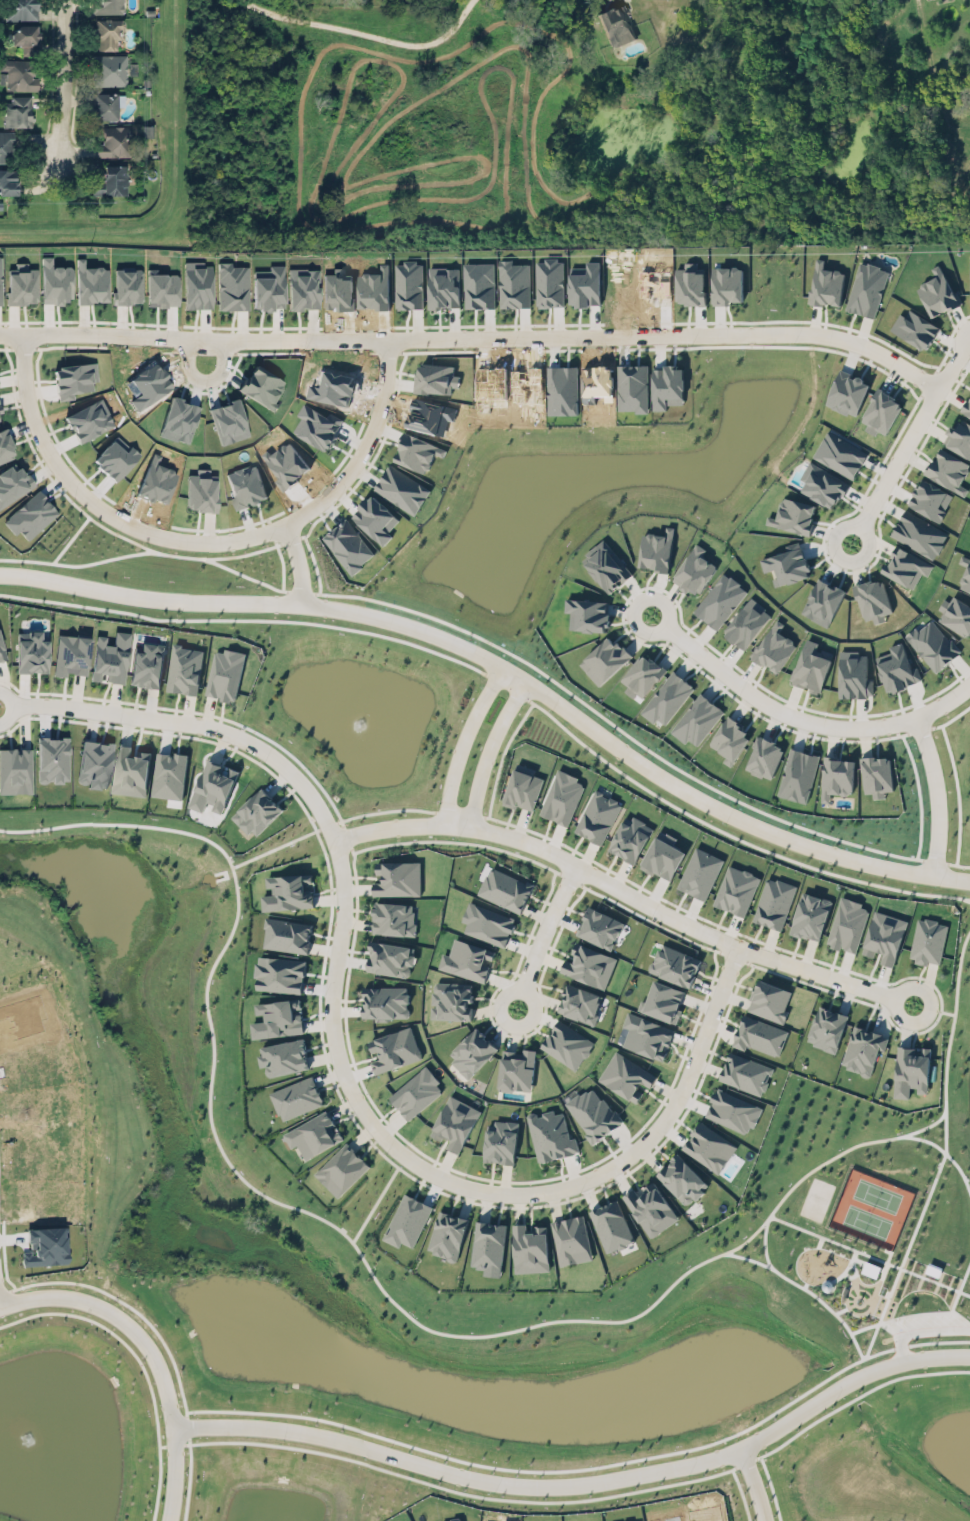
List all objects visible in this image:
building: (106, 6)
building: (21, 9)
building: (616, 25)
building: (107, 33)
road: (364, 35)
building: (26, 37)
building: (109, 69)
building: (18, 73)
road: (69, 83)
building: (105, 106)
building: (17, 111)
building: (144, 132)
building: (115, 142)
building: (5, 147)
building: (112, 181)
building: (8, 182)
building: (969, 268)
building: (0, 282)
building: (550, 282)
building: (513, 283)
building: (409, 284)
building: (826, 284)
building: (197, 285)
building: (444, 286)
building: (865, 286)
building: (232, 287)
building: (268, 288)
building: (303, 288)
building: (937, 292)
building: (915, 328)
road: (798, 333)
road: (192, 339)
building: (434, 377)
building: (74, 379)
building: (667, 386)
building: (847, 392)
building: (967, 408)
building: (881, 411)
building: (88, 419)
building: (228, 421)
road: (902, 437)
building: (959, 438)
road: (366, 442)
building: (840, 454)
building: (113, 459)
building: (949, 470)
building: (12, 483)
building: (822, 484)
building: (246, 486)
building: (402, 488)
building: (200, 491)
building: (930, 499)
road: (97, 507)
building: (793, 515)
building: (30, 516)
building: (918, 533)
building: (656, 549)
building: (787, 563)
building: (606, 564)
building: (906, 566)
building: (695, 570)
building: (965, 574)
road: (152, 597)
building: (873, 599)
building: (720, 600)
building: (822, 601)
building: (587, 614)
building: (956, 614)
building: (747, 623)
building: (933, 644)
building: (774, 647)
building: (31, 652)
building: (1, 653)
building: (70, 655)
building: (110, 658)
building: (604, 659)
building: (146, 663)
building: (811, 666)
building: (896, 666)
building: (185, 669)
building: (225, 672)
building: (852, 672)
building: (642, 675)
building: (667, 698)
road: (940, 699)
building: (697, 719)
road: (837, 728)
road: (463, 739)
building: (730, 740)
road: (488, 748)
building: (765, 757)
building: (52, 759)
building: (93, 761)
building: (131, 769)
building: (15, 770)
building: (874, 772)
building: (798, 774)
building: (837, 776)
building: (213, 786)
building: (522, 786)
building: (562, 796)
road: (706, 798)
building: (257, 812)
building: (596, 815)
road: (726, 833)
building: (630, 837)
road: (276, 844)
building: (662, 853)
building: (700, 872)
building: (398, 878)
building: (735, 888)
building: (506, 889)
road: (625, 890)
building: (288, 891)
road: (969, 898)
building: (774, 902)
building: (809, 912)
building: (393, 918)
building: (487, 923)
building: (848, 924)
building: (600, 927)
road: (542, 932)
building: (287, 935)
building: (884, 937)
building: (928, 940)
building: (389, 958)
building: (467, 959)
building: (674, 963)
building: (589, 965)
building: (451, 1000)
building: (662, 1000)
building: (769, 1000)
building: (384, 1001)
building: (580, 1003)
road: (931, 1007)
building: (278, 1018)
building: (827, 1025)
building: (646, 1035)
building: (759, 1035)
building: (567, 1044)
building: (863, 1046)
building: (394, 1049)
building: (472, 1051)
road: (337, 1055)
building: (284, 1057)
building: (517, 1069)
building: (911, 1070)
building: (745, 1073)
building: (625, 1074)
building: (416, 1092)
building: (296, 1096)
building: (733, 1110)
building: (593, 1112)
building: (454, 1120)
building: (314, 1134)
building: (551, 1135)
building: (500, 1140)
building: (708, 1145)
building: (342, 1169)
building: (682, 1179)
road: (374, 1196)
building: (651, 1206)
building: (408, 1220)
building: (611, 1225)
building: (448, 1232)
building: (570, 1237)
building: (488, 1244)
building: (530, 1246)
road: (64, 1299)
road: (518, 1325)
road: (172, 1414)
road: (582, 1484)
road: (747, 1485)

